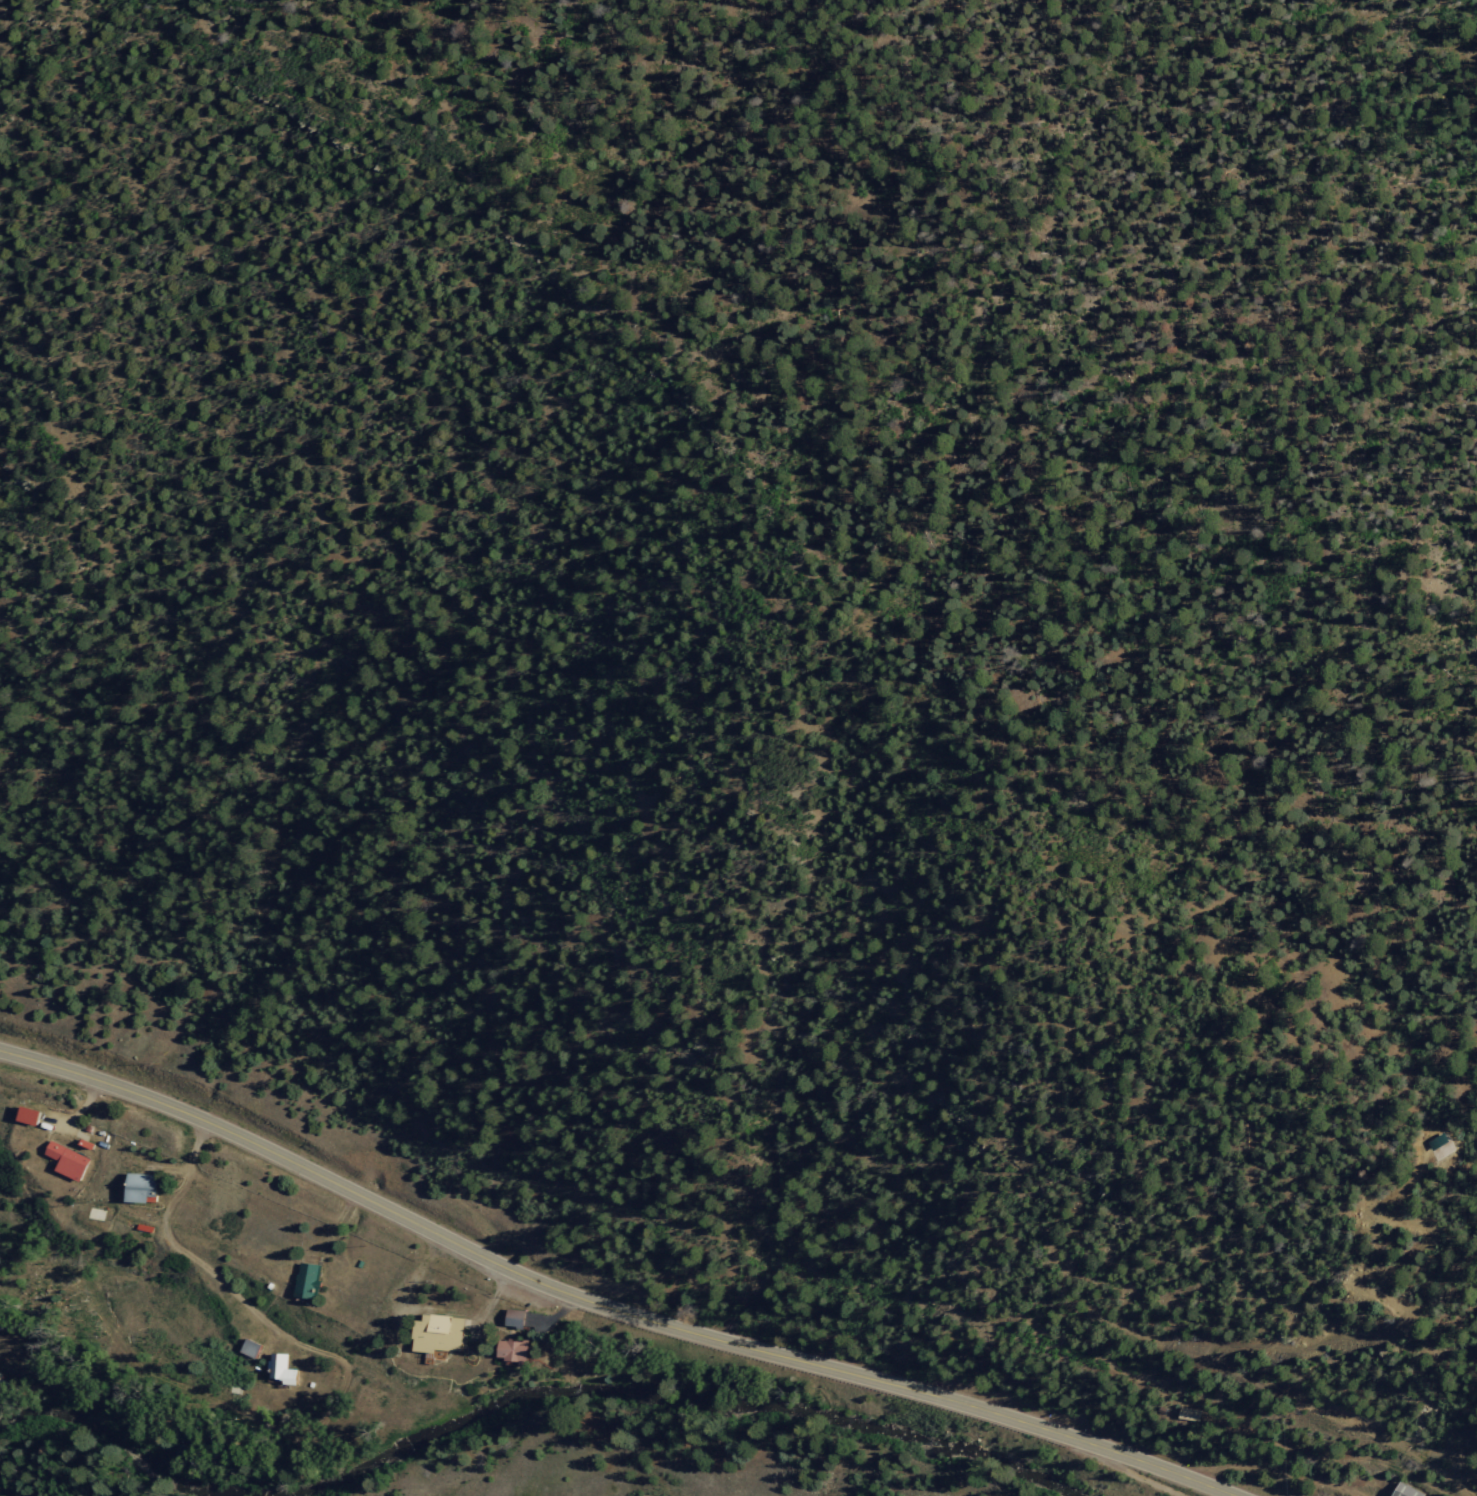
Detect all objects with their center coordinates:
building: (33, 1115)
building: (71, 1161)
building: (146, 1187)
building: (310, 1281)
road: (606, 1305)
building: (512, 1318)
building: (436, 1334)
building: (254, 1348)
building: (510, 1351)
building: (285, 1369)
building: (4, 1385)
river: (524, 1397)
building: (1188, 1413)
road: (1149, 1480)
building: (1404, 1490)

